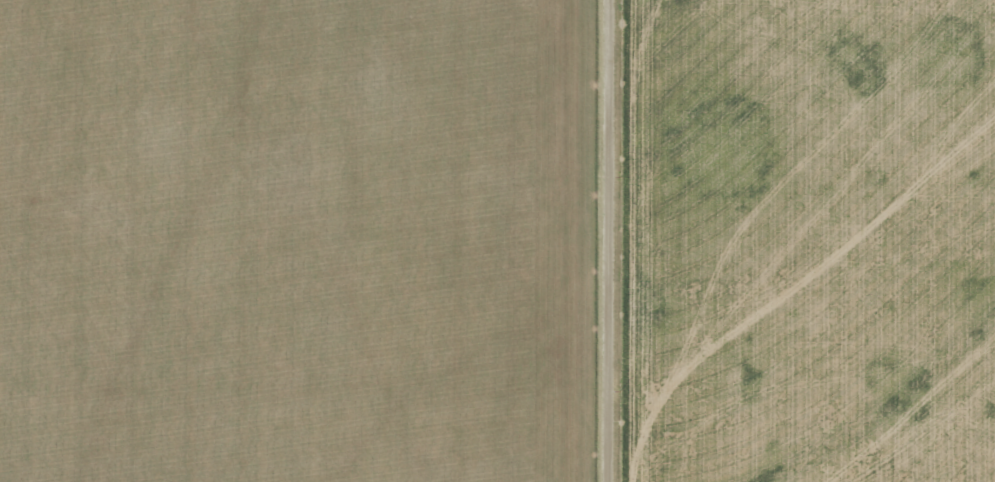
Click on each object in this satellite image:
road: (633, 241)

